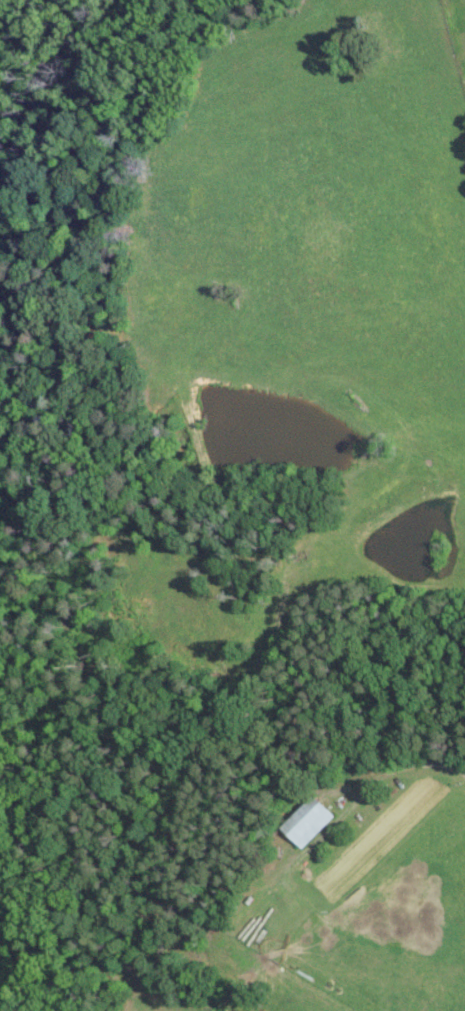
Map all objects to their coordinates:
road: (414, 764)
building: (309, 821)

